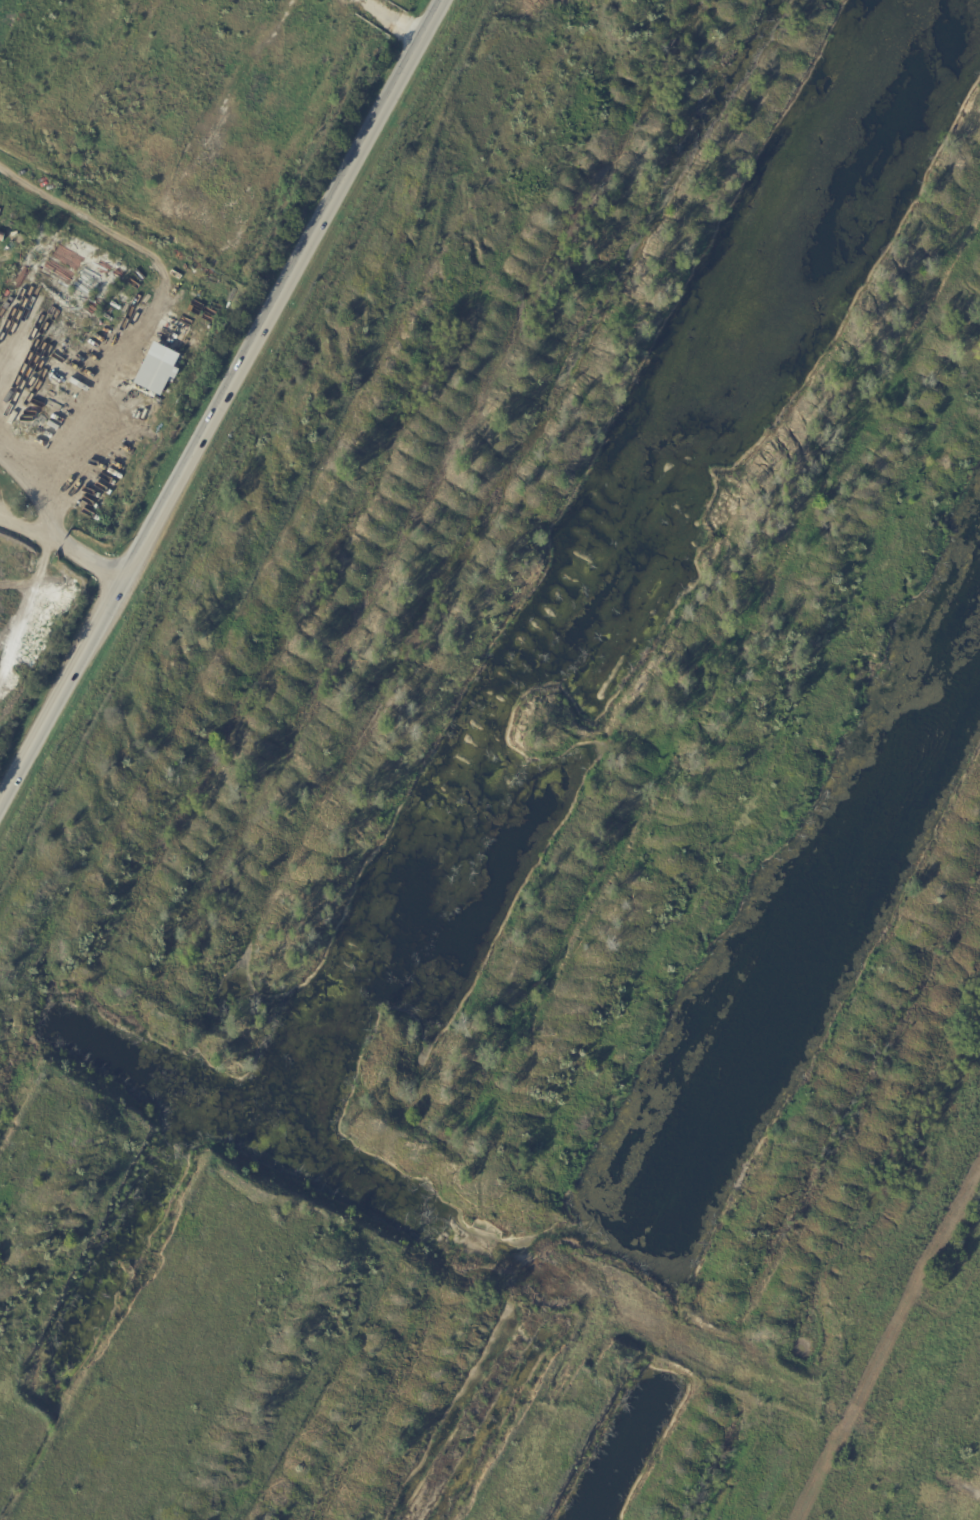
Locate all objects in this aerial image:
road: (152, 313)
building: (156, 368)
road: (224, 407)
road: (31, 493)
road: (25, 526)
road: (90, 558)

